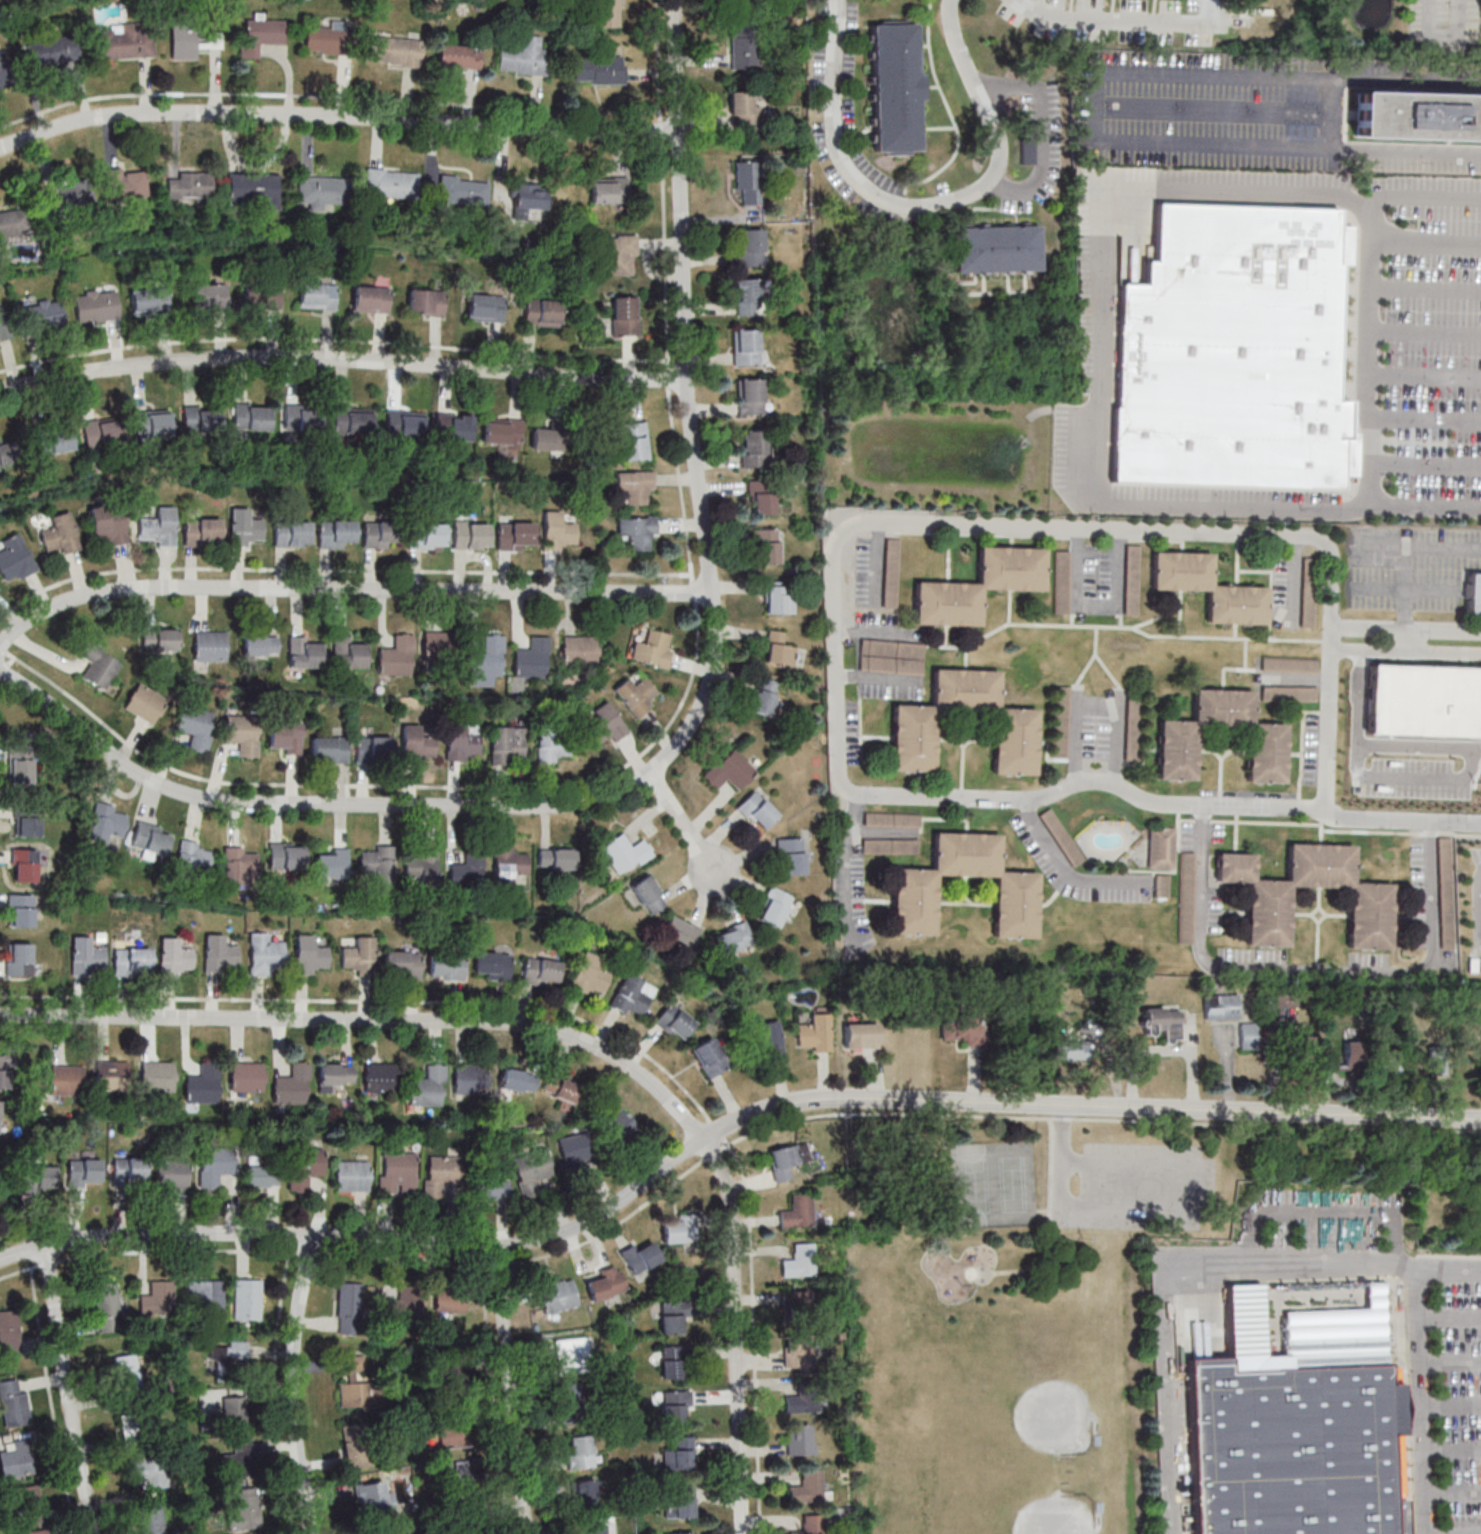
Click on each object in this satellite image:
building: (609, 13)
road: (1112, 16)
building: (261, 34)
building: (327, 38)
building: (184, 42)
building: (125, 43)
building: (746, 48)
building: (396, 50)
building: (459, 56)
building: (523, 56)
building: (601, 68)
building: (897, 87)
road: (1099, 109)
building: (747, 110)
parking lot: (1278, 114)
building: (1417, 114)
road: (338, 115)
road: (1045, 130)
building: (751, 182)
building: (125, 183)
building: (392, 183)
building: (190, 185)
building: (256, 188)
building: (610, 189)
building: (322, 190)
building: (464, 190)
building: (527, 199)
road: (928, 206)
road: (1428, 242)
building: (753, 247)
building: (998, 248)
building: (619, 254)
road: (1428, 288)
building: (210, 294)
building: (317, 295)
building: (748, 296)
building: (261, 297)
building: (371, 299)
building: (150, 300)
building: (426, 302)
building: (88, 306)
building: (486, 307)
building: (543, 312)
building: (42, 314)
building: (627, 315)
road: (1428, 332)
parking lot: (1276, 344)
building: (749, 346)
road: (1101, 346)
building: (1231, 349)
road: (1375, 357)
road: (344, 360)
road: (1428, 375)
building: (753, 396)
building: (251, 416)
building: (302, 417)
building: (201, 418)
road: (1427, 418)
building: (353, 420)
building: (153, 422)
building: (405, 423)
building: (454, 427)
building: (502, 431)
building: (102, 432)
building: (548, 439)
building: (53, 441)
building: (636, 441)
building: (755, 448)
road: (1427, 466)
building: (636, 485)
building: (762, 496)
building: (107, 525)
building: (160, 526)
building: (246, 528)
building: (203, 530)
road: (1093, 530)
building: (559, 531)
building: (639, 532)
building: (292, 533)
building: (338, 533)
building: (60, 534)
building: (379, 534)
building: (472, 534)
building: (428, 535)
building: (517, 535)
building: (768, 545)
road: (1407, 550)
building: (15, 558)
parking lot: (1412, 568)
building: (893, 573)
building: (1063, 581)
building: (979, 585)
building: (1209, 587)
road: (348, 588)
building: (1309, 591)
building: (1473, 595)
building: (780, 598)
building: (1132, 603)
road: (1098, 605)
road: (1405, 630)
road: (879, 634)
building: (159, 638)
road: (1404, 638)
building: (211, 645)
building: (261, 645)
road: (1406, 647)
building: (655, 648)
building: (781, 648)
building: (440, 650)
building: (580, 650)
building: (304, 652)
building: (349, 653)
building: (398, 656)
building: (534, 658)
building: (488, 662)
building: (1290, 664)
road: (878, 679)
building: (1452, 689)
building: (1289, 693)
building: (638, 694)
building: (766, 696)
building: (145, 703)
building: (1062, 720)
building: (607, 724)
building: (196, 726)
building: (243, 734)
parking lot: (1407, 735)
road: (683, 737)
building: (285, 738)
road: (1079, 739)
building: (1015, 740)
building: (463, 741)
road: (1120, 742)
building: (419, 743)
building: (555, 743)
building: (508, 745)
building: (329, 748)
building: (374, 748)
road: (1415, 748)
building: (1266, 752)
building: (731, 770)
road: (1368, 778)
road: (1158, 801)
building: (759, 810)
road: (684, 820)
building: (110, 824)
building: (29, 825)
building: (1063, 836)
building: (150, 839)
building: (1161, 847)
building: (626, 852)
building: (193, 855)
building: (288, 855)
building: (794, 855)
building: (557, 858)
building: (377, 862)
building: (332, 863)
building: (421, 863)
building: (509, 863)
building: (25, 865)
building: (239, 865)
road: (855, 867)
road: (1067, 867)
building: (468, 869)
building: (1163, 886)
building: (650, 894)
building: (1017, 905)
building: (776, 906)
parking lot: (1474, 907)
building: (21, 911)
building: (1370, 915)
building: (682, 931)
building: (735, 938)
building: (219, 953)
building: (265, 954)
building: (311, 954)
building: (359, 955)
building: (174, 956)
building: (20, 960)
building: (133, 960)
building: (403, 964)
building: (493, 965)
building: (446, 966)
road: (1313, 969)
building: (541, 971)
building: (591, 974)
building: (633, 995)
building: (1222, 1006)
building: (675, 1021)
building: (1163, 1022)
building: (965, 1028)
building: (818, 1033)
road: (572, 1034)
building: (864, 1035)
building: (1249, 1035)
building: (773, 1039)
building: (1072, 1049)
building: (1301, 1050)
road: (1165, 1051)
building: (1353, 1051)
building: (711, 1057)
building: (1439, 1058)
building: (1388, 1064)
building: (112, 1074)
building: (157, 1075)
building: (334, 1075)
building: (247, 1076)
building: (379, 1077)
building: (469, 1077)
building: (518, 1079)
building: (203, 1083)
building: (292, 1084)
building: (429, 1086)
building: (560, 1087)
road: (1051, 1117)
building: (619, 1124)
road: (724, 1131)
building: (574, 1149)
road: (1063, 1155)
building: (788, 1160)
building: (215, 1166)
building: (304, 1166)
building: (129, 1170)
building: (531, 1170)
building: (83, 1171)
building: (397, 1172)
building: (172, 1174)
building: (260, 1174)
building: (440, 1174)
building: (351, 1175)
building: (40, 1176)
park: (996, 1186)
building: (490, 1188)
road: (1196, 1189)
parking lot: (1140, 1190)
building: (799, 1211)
road: (1045, 1212)
road: (1051, 1214)
building: (681, 1229)
building: (641, 1256)
building: (800, 1261)
road: (1163, 1276)
building: (604, 1283)
building: (557, 1294)
building: (204, 1295)
building: (158, 1298)
building: (247, 1298)
building: (350, 1301)
building: (449, 1301)
building: (797, 1302)
building: (107, 1307)
building: (673, 1316)
park: (1020, 1323)
building: (799, 1350)
building: (571, 1354)
building: (231, 1361)
building: (673, 1362)
road: (1420, 1367)
building: (128, 1370)
road: (295, 1386)
building: (359, 1386)
park: (1026, 1387)
road: (72, 1391)
road: (511, 1391)
building: (805, 1397)
building: (572, 1401)
building: (12, 1402)
building: (675, 1405)
building: (232, 1406)
parking lot: (1460, 1406)
building: (132, 1430)
building: (456, 1437)
building: (800, 1439)
building: (356, 1445)
building: (1290, 1445)
building: (578, 1452)
building: (679, 1453)
building: (238, 1462)
building: (467, 1473)
building: (151, 1479)
building: (809, 1487)
building: (583, 1495)
building: (374, 1497)
building: (29, 1499)
building: (680, 1502)
building: (245, 1510)
building: (152, 1519)
park: (1019, 1523)
building: (812, 1524)
building: (593, 1529)
building: (38, 1531)
building: (680, 1533)

